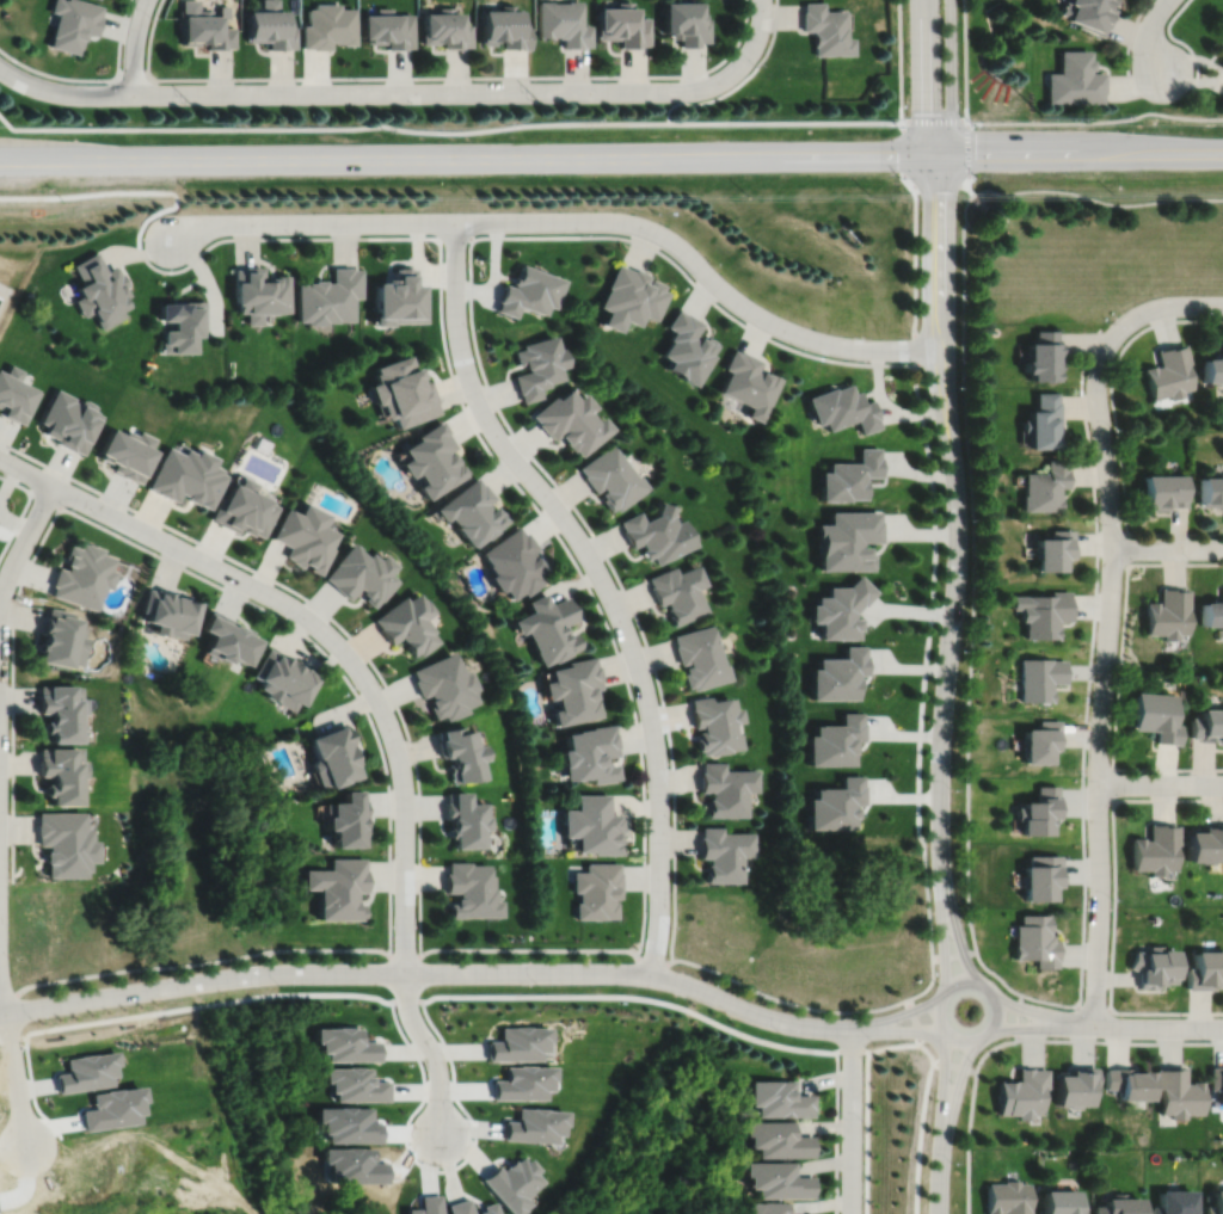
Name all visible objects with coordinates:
building: (1089, 13)
street lamp: (152, 17)
building: (686, 20)
building: (564, 21)
building: (72, 23)
building: (622, 24)
building: (269, 25)
building: (328, 25)
building: (203, 26)
building: (504, 26)
building: (387, 27)
building: (445, 27)
building: (825, 29)
road: (757, 31)
road: (1150, 35)
road: (1182, 41)
road: (134, 45)
road: (1129, 45)
street lamp: (1131, 53)
road: (965, 60)
road: (901, 61)
street lamp: (755, 63)
building: (1222, 66)
road: (133, 76)
road: (432, 76)
road: (93, 79)
street lamp: (475, 79)
street lamp: (595, 79)
road: (921, 79)
road: (951, 79)
building: (1075, 79)
street lamp: (358, 80)
road: (739, 80)
street lamp: (240, 81)
street lamp: (104, 82)
road: (683, 87)
road: (442, 91)
road: (63, 93)
power tower: (1044, 116)
power tower: (558, 121)
road: (1094, 121)
power tower: (208, 122)
road: (933, 122)
road: (448, 130)
road: (902, 149)
road: (965, 149)
traffic signals: (934, 156)
road: (610, 158)
street lamp: (898, 175)
street lamp: (978, 175)
road: (939, 185)
street lamp: (955, 195)
road: (1096, 198)
road: (312, 222)
road: (1000, 227)
street lamp: (583, 233)
street lamp: (291, 234)
road: (456, 236)
road: (915, 253)
street lamp: (712, 260)
street lamp: (164, 266)
road: (700, 267)
building: (98, 290)
building: (529, 291)
street lamp: (957, 292)
building: (257, 294)
road: (935, 295)
building: (327, 297)
building: (631, 297)
building: (399, 298)
road: (1168, 304)
street lamp: (1204, 315)
street lamp: (1108, 321)
building: (179, 325)
street lamp: (469, 328)
street lamp: (797, 346)
building: (688, 349)
road: (917, 351)
building: (1043, 357)
building: (537, 366)
building: (1213, 369)
building: (1170, 372)
road: (486, 383)
building: (748, 384)
street lamp: (958, 386)
building: (401, 393)
building: (14, 396)
building: (842, 409)
building: (69, 421)
building: (571, 421)
building: (1043, 423)
street lamp: (1113, 426)
road: (1118, 432)
road: (488, 451)
building: (127, 454)
street lamp: (497, 457)
building: (431, 458)
building: (611, 475)
building: (849, 475)
building: (184, 476)
building: (1045, 486)
building: (1164, 488)
building: (1211, 489)
road: (43, 497)
street lamp: (67, 506)
building: (241, 507)
road: (23, 509)
building: (472, 510)
street lamp: (969, 517)
street lamp: (1100, 523)
road: (140, 528)
building: (657, 531)
street lamp: (589, 534)
building: (305, 535)
building: (847, 537)
road: (23, 542)
street lamp: (195, 543)
building: (1053, 548)
road: (1126, 548)
road: (1167, 549)
road: (165, 557)
street lamp: (1193, 560)
building: (514, 561)
building: (361, 572)
building: (81, 573)
road: (603, 580)
building: (680, 591)
road: (973, 591)
building: (840, 608)
building: (1212, 610)
building: (1043, 611)
building: (165, 612)
street lamp: (278, 612)
building: (1169, 612)
road: (325, 614)
building: (407, 622)
building: (549, 626)
building: (59, 636)
building: (226, 637)
street lamp: (616, 640)
street lamp: (959, 651)
building: (700, 655)
street lamp: (1118, 659)
road: (947, 668)
building: (837, 673)
road: (1104, 673)
road: (1119, 673)
building: (281, 677)
building: (1039, 677)
building: (444, 685)
building: (574, 689)
road: (922, 689)
road: (1088, 691)
building: (59, 709)
building: (1157, 715)
building: (715, 723)
building: (1207, 725)
building: (835, 740)
building: (1040, 740)
street lamp: (8, 744)
building: (460, 752)
building: (590, 753)
building: (331, 754)
road: (399, 762)
building: (60, 772)
street lamp: (1187, 772)
street lamp: (1087, 779)
road: (1112, 783)
road: (1160, 784)
building: (726, 788)
street lamp: (952, 789)
building: (835, 803)
building: (1038, 811)
building: (345, 818)
building: (463, 819)
street lamp: (671, 819)
building: (594, 824)
building: (63, 843)
building: (1205, 843)
building: (1156, 849)
street lamp: (393, 852)
building: (725, 852)
building: (1040, 877)
building: (338, 887)
building: (597, 889)
building: (471, 891)
street lamp: (1112, 898)
road: (1113, 906)
street lamp: (965, 922)
street lamp: (670, 926)
building: (1035, 941)
road: (957, 945)
road: (947, 948)
road: (526, 949)
road: (953, 954)
road: (405, 956)
street lamp: (10, 957)
street lamp: (431, 960)
road: (202, 961)
road: (652, 961)
building: (1155, 967)
building: (1205, 969)
road: (431, 972)
street lamp: (154, 976)
street lamp: (711, 980)
street lamp: (935, 982)
street lamp: (279, 985)
street lamp: (540, 985)
road: (1, 996)
road: (7, 996)
road: (480, 996)
road: (995, 1000)
road: (786, 1002)
street lamp: (1071, 1007)
road: (1090, 1007)
road: (1032, 1012)
road: (899, 1013)
road: (1018, 1016)
street lamp: (33, 1019)
road: (1028, 1027)
road: (1147, 1027)
road: (901, 1030)
street lamp: (1206, 1039)
street lamp: (873, 1040)
road: (1119, 1041)
building: (346, 1044)
building: (520, 1044)
road: (431, 1050)
street lamp: (975, 1062)
building: (86, 1072)
road: (944, 1073)
road: (961, 1076)
road: (14, 1079)
building: (1217, 1080)
building: (522, 1083)
building: (1130, 1084)
building: (355, 1085)
building: (1075, 1086)
building: (1022, 1093)
building: (1179, 1093)
building: (780, 1099)
street lamp: (457, 1107)
building: (115, 1109)
road: (971, 1114)
road: (852, 1121)
street lamp: (864, 1121)
building: (536, 1126)
road: (836, 1136)
building: (779, 1140)
street lamp: (952, 1163)
road: (939, 1164)
road: (440, 1170)
building: (779, 1182)
building: (512, 1184)
building: (1008, 1197)
building: (1062, 1202)
building: (1175, 1202)
building: (1216, 1203)
building: (429, 1204)
building: (1119, 1206)
building: (459, 1207)
building: (768, 1208)
building: (488, 1209)
building: (410, 1210)

